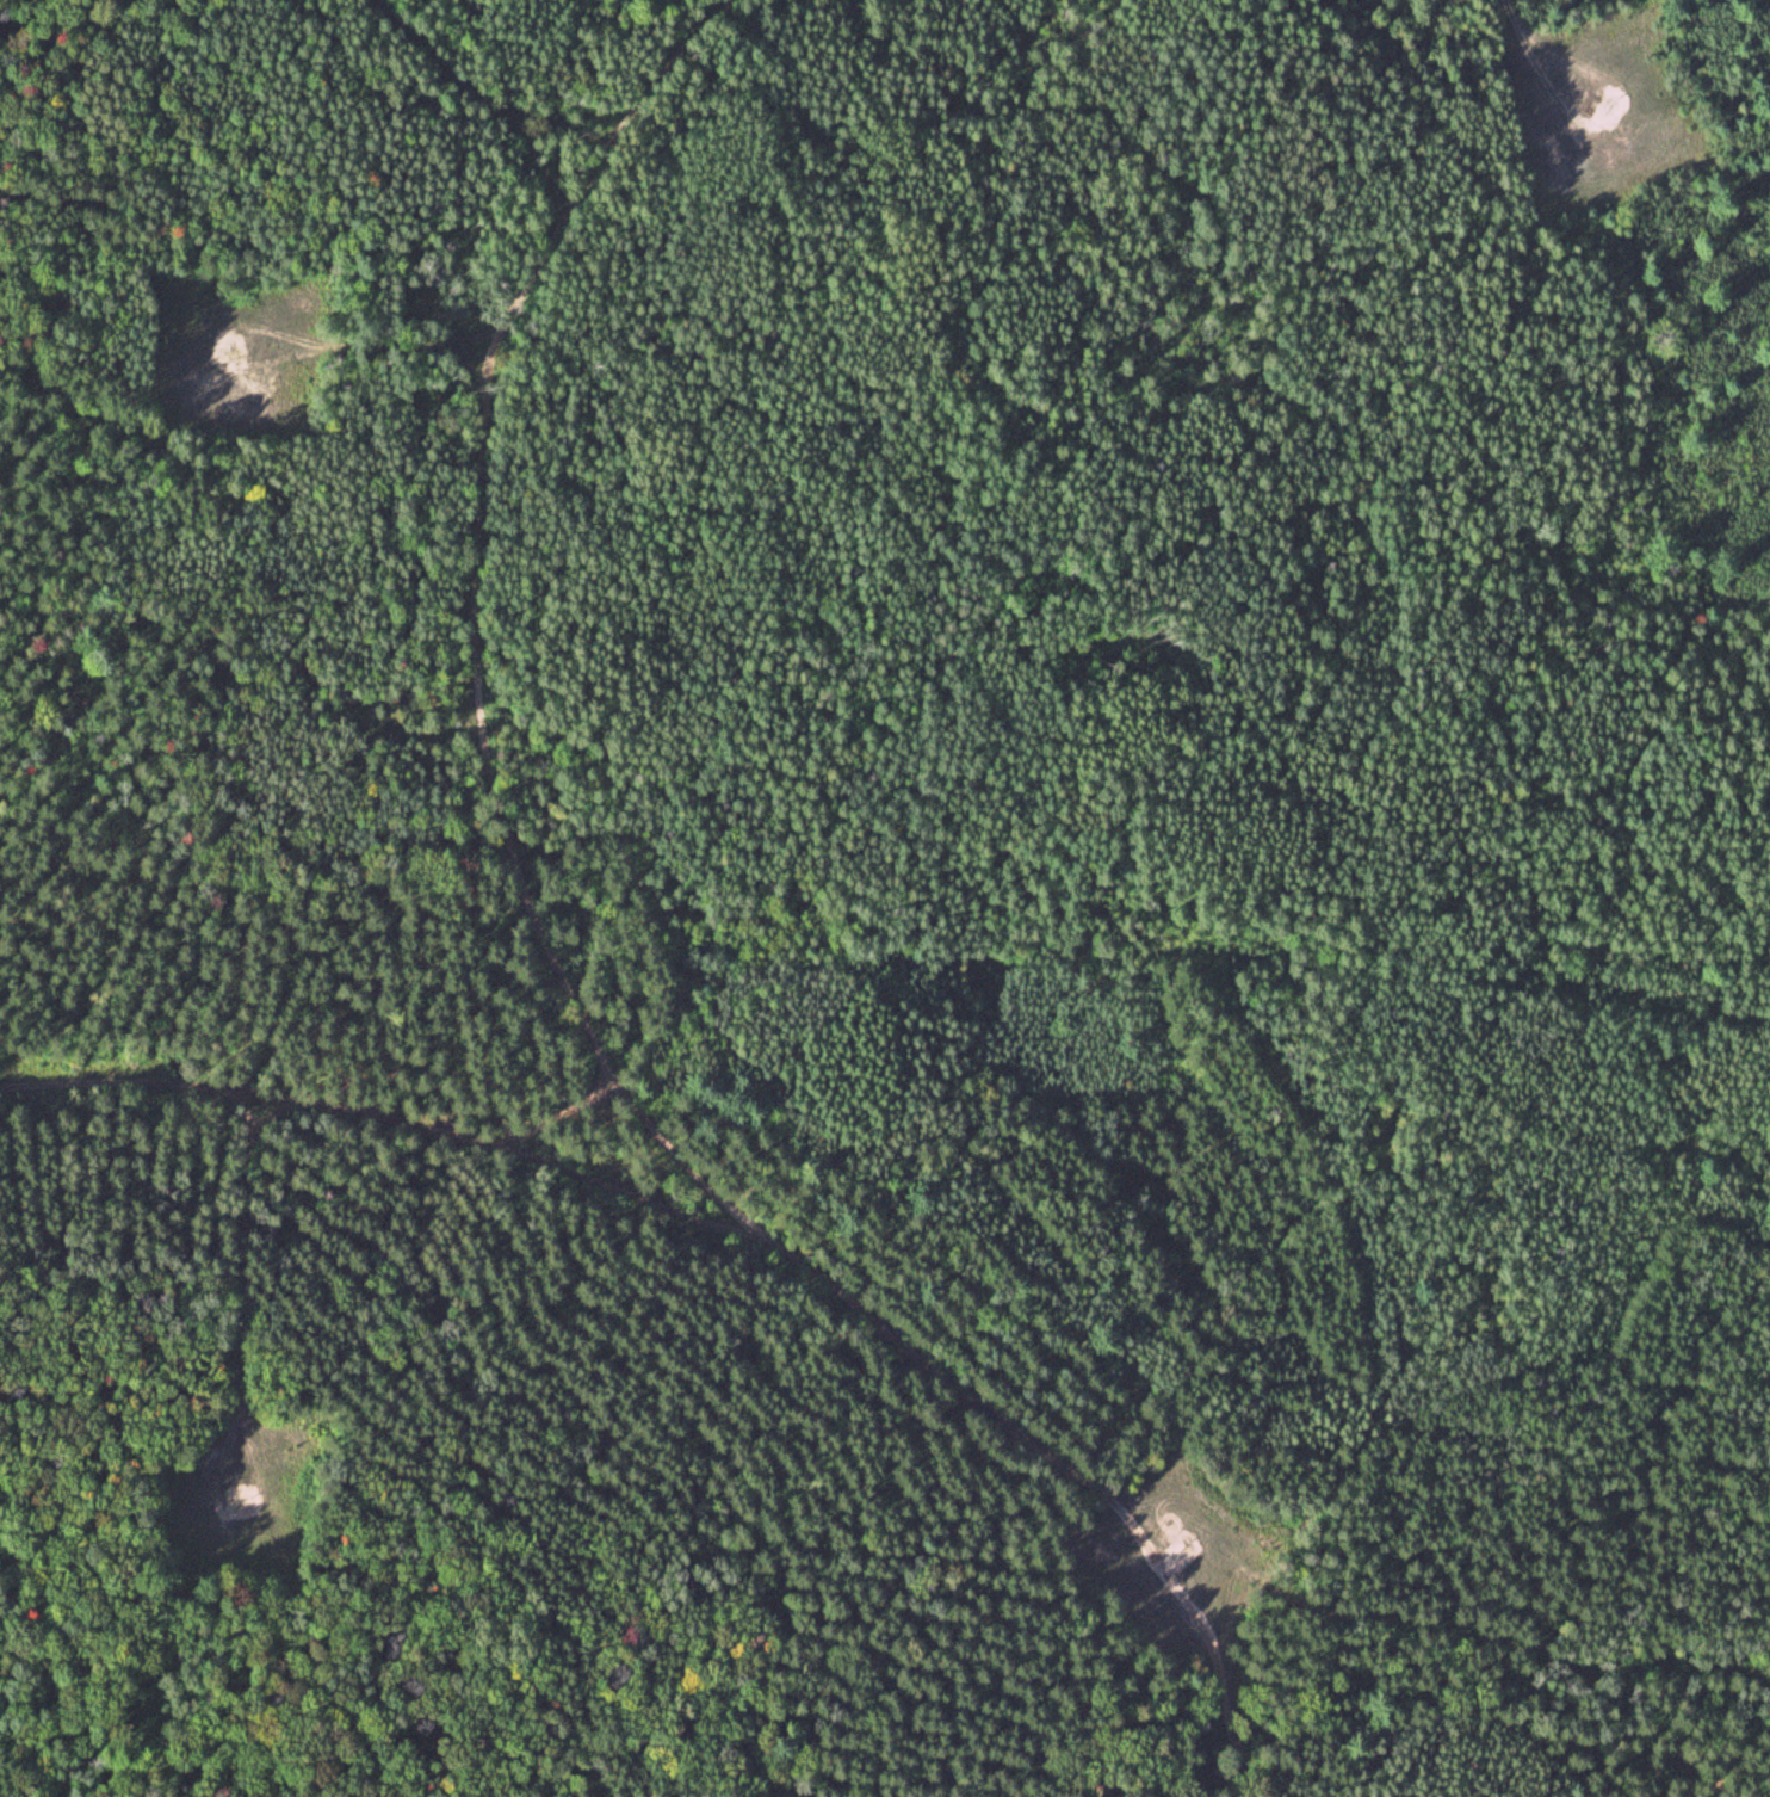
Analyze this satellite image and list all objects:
road: (1514, 29)
petroleum well: (1607, 107)
road: (1619, 117)
road: (311, 341)
petroleum well: (235, 350)
road: (574, 990)
road: (561, 1113)
road: (389, 1118)
road: (240, 1367)
petroleum well: (242, 1496)
petroleum well: (1181, 1548)

